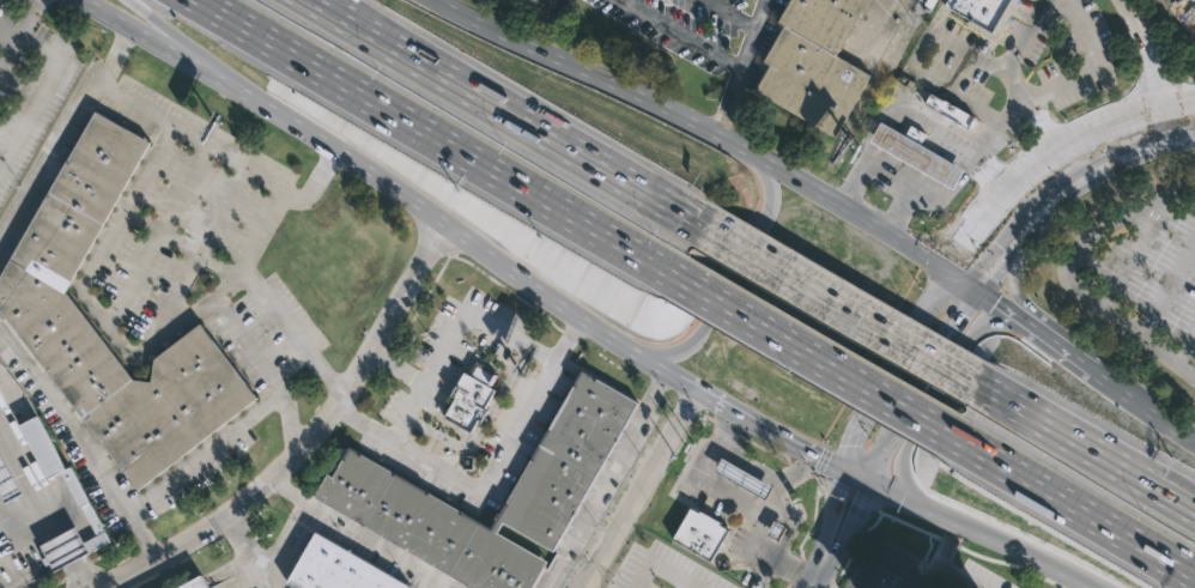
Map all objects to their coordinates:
building: (536, 0)
building: (1193, 1)
building: (984, 13)
road: (535, 22)
parking lot: (690, 28)
road: (18, 30)
road: (7, 31)
road: (681, 35)
road: (1025, 37)
road: (1140, 49)
road: (411, 56)
road: (436, 56)
road: (915, 60)
building: (814, 61)
road: (214, 66)
road: (741, 68)
road: (1080, 75)
road: (663, 109)
building: (948, 109)
road: (1171, 119)
road: (61, 127)
road: (1078, 127)
road: (425, 133)
road: (194, 137)
building: (917, 152)
gas station: (917, 152)
road: (967, 156)
road: (603, 165)
road: (1093, 171)
road: (886, 174)
road: (413, 205)
road: (285, 214)
road: (940, 234)
road: (157, 235)
road: (202, 247)
traffic signals: (959, 250)
building: (329, 257)
road: (932, 261)
road: (1070, 275)
parking lot: (1140, 277)
road: (1015, 284)
building: (36, 299)
traffic signals: (993, 299)
road: (87, 301)
road: (839, 302)
road: (1003, 305)
road: (714, 308)
traffic signals: (964, 315)
road: (277, 319)
road: (453, 331)
road: (908, 335)
road: (250, 344)
road: (1061, 344)
road: (814, 354)
road: (938, 360)
road: (395, 371)
road: (327, 374)
road: (933, 393)
building: (472, 394)
road: (1144, 400)
road: (279, 402)
road: (311, 438)
road: (1091, 443)
road: (791, 445)
traffic signals: (848, 445)
road: (81, 448)
road: (202, 454)
traffic signals: (817, 457)
road: (748, 461)
road: (18, 466)
road: (489, 474)
road: (856, 475)
building: (745, 478)
road: (603, 480)
building: (7, 481)
building: (369, 486)
road: (642, 490)
road: (1051, 491)
road: (778, 493)
road: (744, 502)
building: (85, 505)
traffic signals: (860, 508)
road: (46, 519)
road: (827, 519)
road: (908, 525)
road: (23, 529)
road: (848, 529)
building: (702, 533)
road: (363, 534)
road: (983, 534)
road: (950, 544)
road: (855, 545)
building: (72, 546)
road: (62, 551)
road: (244, 552)
road: (272, 556)
road: (1163, 556)
road: (1160, 563)
road: (939, 564)
road: (1011, 565)
road: (656, 566)
building: (338, 569)
road: (932, 571)
road: (75, 576)
road: (811, 578)
road: (922, 581)
building: (195, 583)
road: (813, 586)
road: (833, 586)

